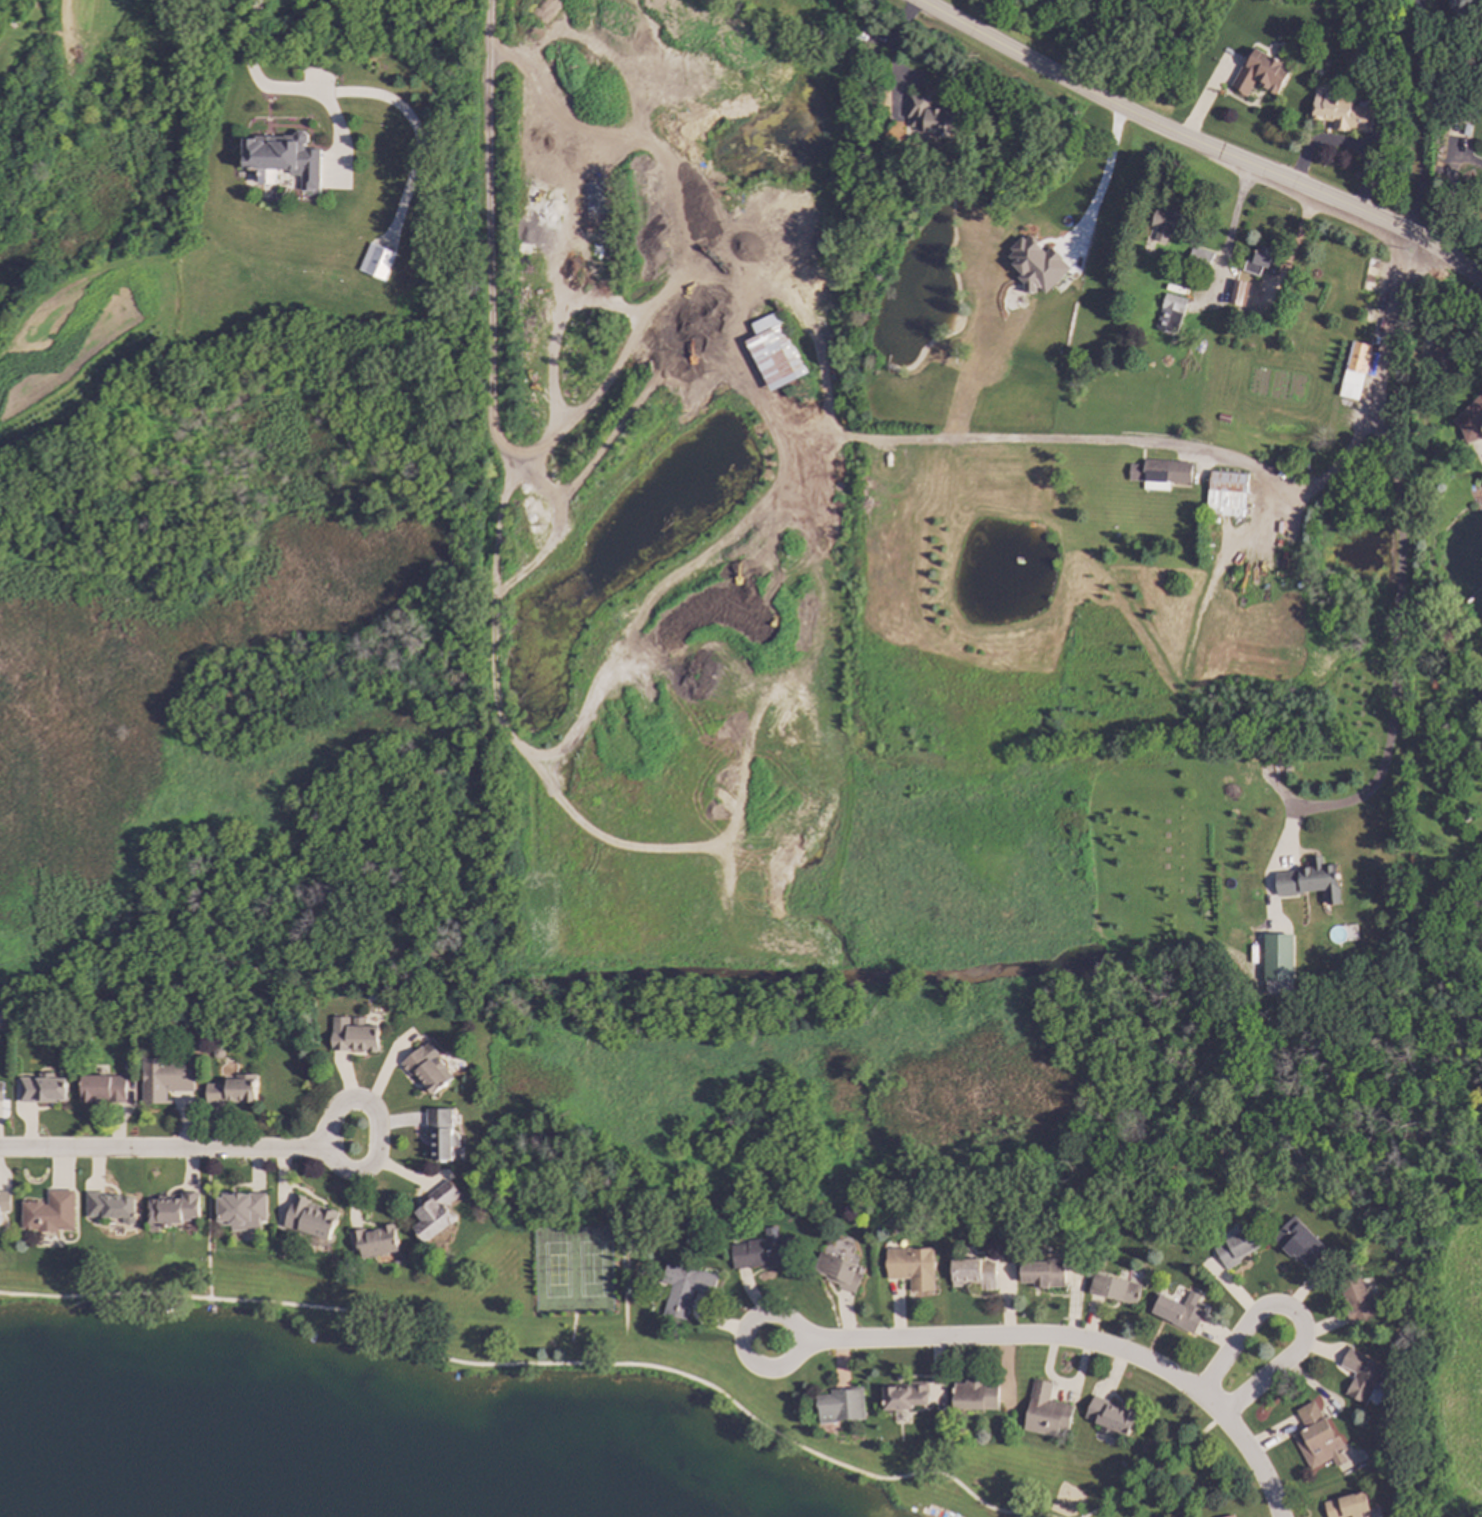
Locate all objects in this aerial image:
building: (1467, 7)
road: (893, 52)
building: (1260, 73)
road: (273, 89)
building: (1339, 111)
building: (928, 115)
road: (1421, 117)
road: (1162, 123)
building: (281, 158)
road: (1101, 159)
road: (1449, 189)
building: (1167, 224)
building: (1200, 254)
road: (1445, 257)
building: (375, 261)
building: (1258, 261)
building: (1036, 265)
building: (1238, 293)
road: (776, 294)
building: (1170, 314)
building: (772, 352)
building: (1447, 353)
building: (1353, 370)
building: (1472, 420)
road: (1343, 456)
building: (1159, 473)
building: (1225, 493)
road: (1394, 656)
building: (1309, 881)
building: (1277, 964)
building: (353, 1035)
building: (428, 1069)
building: (165, 1079)
building: (43, 1088)
building: (104, 1088)
building: (1, 1090)
building: (233, 1090)
building: (441, 1134)
road: (377, 1145)
road: (163, 1150)
building: (4, 1201)
building: (111, 1207)
building: (173, 1210)
building: (241, 1211)
building: (50, 1212)
building: (435, 1212)
building: (311, 1218)
road: (209, 1224)
building: (1296, 1240)
building: (377, 1241)
building: (1235, 1247)
building: (759, 1251)
building: (911, 1267)
park: (591, 1268)
park: (556, 1269)
building: (837, 1271)
building: (973, 1273)
building: (1043, 1273)
building: (1114, 1288)
building: (684, 1289)
building: (1356, 1300)
road: (625, 1306)
building: (1176, 1311)
road: (1293, 1313)
road: (744, 1336)
road: (573, 1337)
road: (1079, 1341)
road: (534, 1363)
building: (1360, 1375)
building: (974, 1395)
building: (904, 1396)
building: (840, 1405)
building: (1045, 1411)
building: (1109, 1415)
road: (1154, 1469)
building: (1346, 1506)
building: (1230, 1516)

